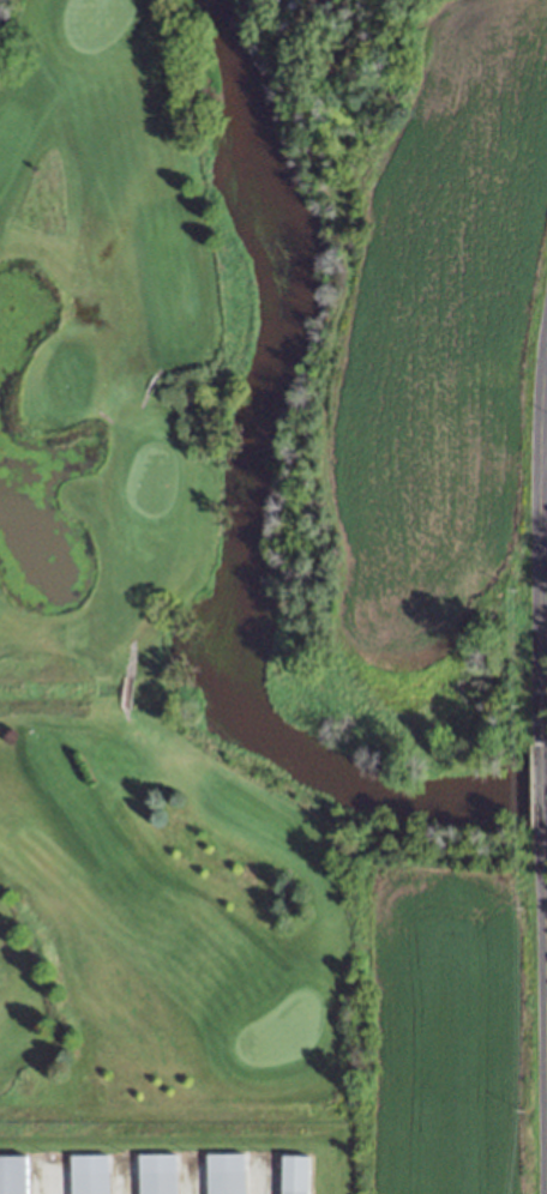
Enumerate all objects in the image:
river: (208, 527)
road: (542, 549)
park: (137, 634)
road: (542, 783)
road: (545, 947)
building: (86, 1174)
building: (155, 1174)
building: (222, 1174)
building: (291, 1174)

